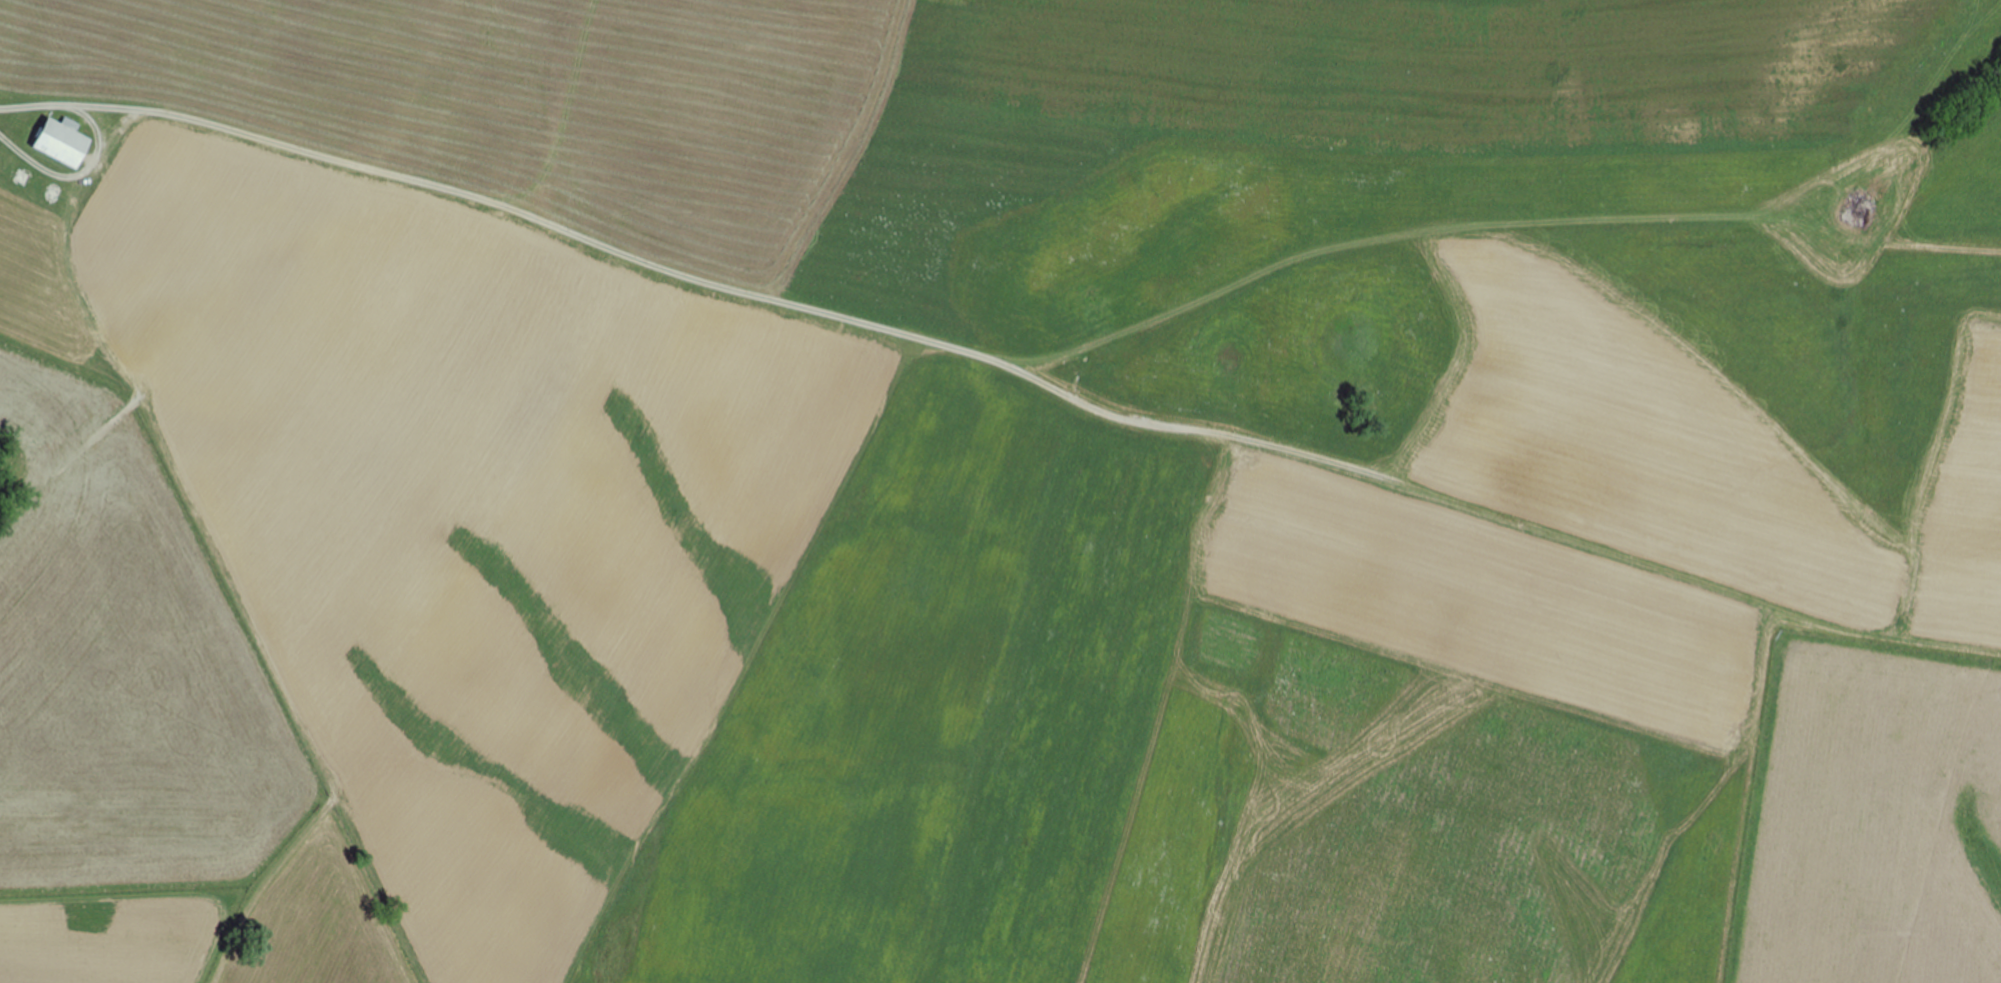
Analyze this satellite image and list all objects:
building: (65, 142)
road: (222, 649)

